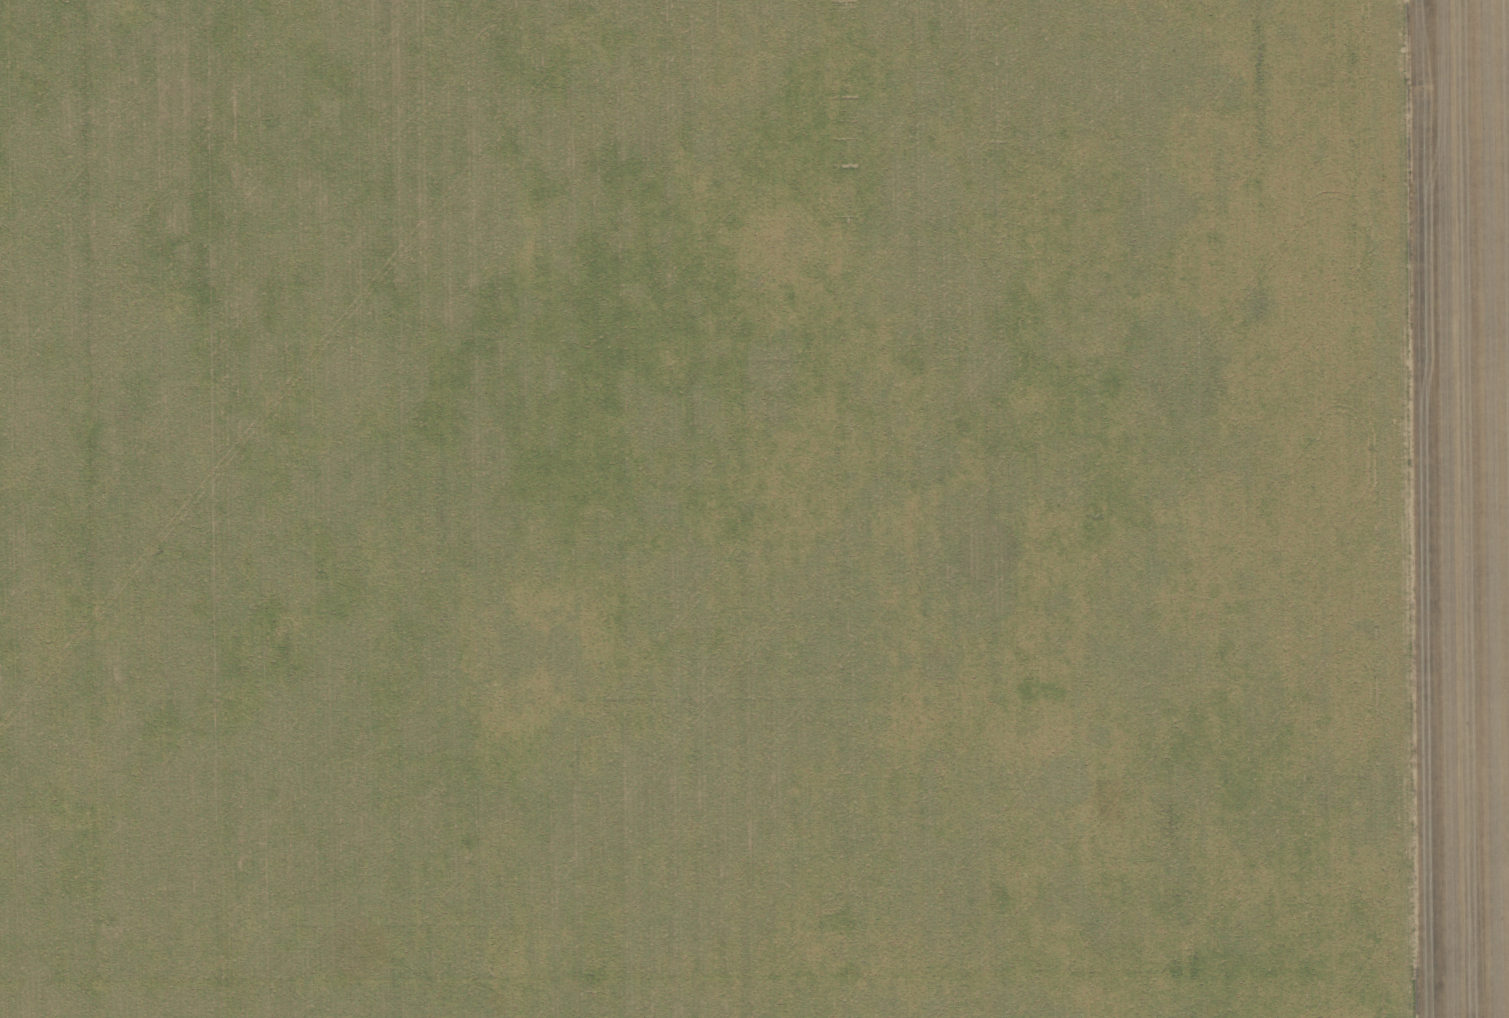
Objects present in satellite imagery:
road: (1427, 509)

